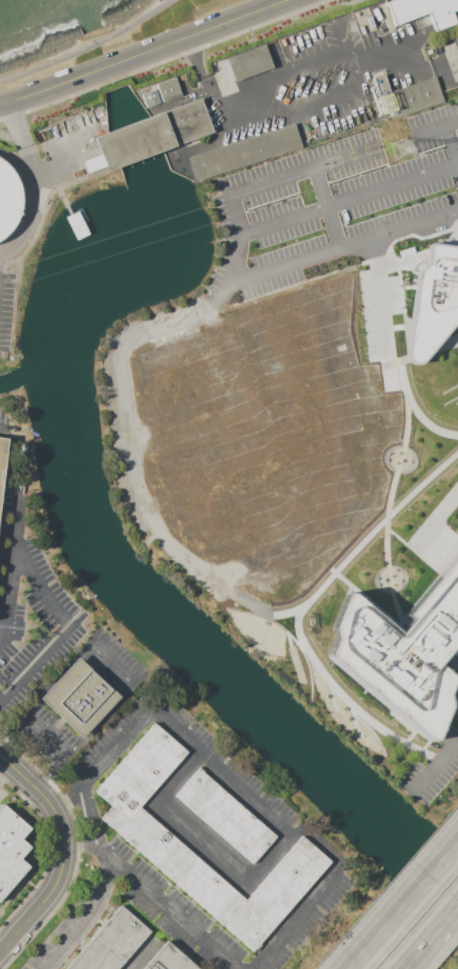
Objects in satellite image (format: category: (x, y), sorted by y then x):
building: (422, 11)
road: (347, 53)
road: (145, 54)
road: (414, 58)
road: (164, 60)
building: (244, 64)
building: (168, 89)
building: (417, 95)
building: (149, 98)
road: (430, 129)
building: (152, 134)
road: (450, 136)
power tower: (403, 150)
building: (242, 152)
building: (92, 164)
road: (282, 178)
road: (45, 188)
road: (318, 188)
building: (7, 200)
road: (331, 228)
road: (343, 247)
road: (378, 298)
building: (432, 301)
road: (180, 318)
road: (415, 412)
road: (2, 423)
building: (3, 463)
road: (387, 506)
road: (436, 513)
road: (11, 566)
road: (41, 586)
road: (301, 608)
road: (11, 626)
building: (402, 649)
road: (34, 666)
road: (48, 683)
building: (81, 698)
road: (172, 724)
road: (4, 766)
road: (434, 766)
building: (223, 815)
road: (201, 846)
building: (161, 849)
road: (46, 850)
road: (77, 850)
building: (12, 851)
road: (65, 853)
road: (406, 909)
road: (178, 919)
road: (430, 937)
building: (113, 943)
road: (139, 956)
building: (169, 960)

